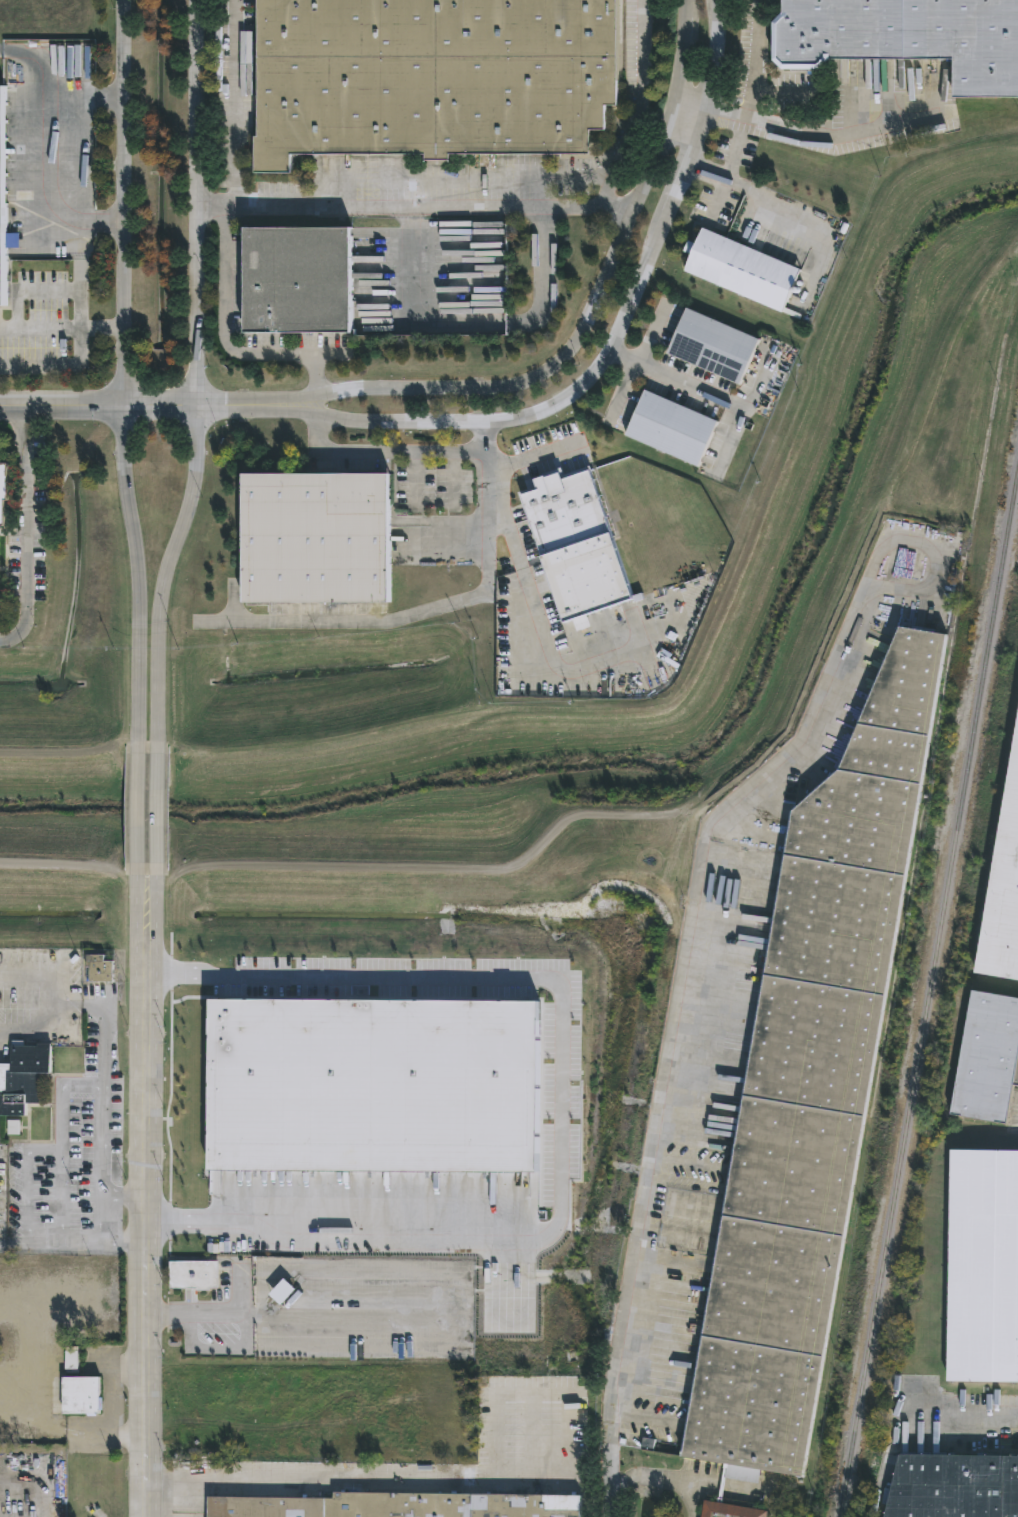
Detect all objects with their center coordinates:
building: (906, 38)
road: (717, 54)
road: (754, 59)
building: (430, 77)
road: (43, 79)
road: (108, 99)
road: (233, 104)
road: (694, 105)
road: (820, 135)
road: (689, 161)
road: (728, 168)
road: (706, 172)
road: (40, 187)
road: (123, 201)
road: (197, 203)
road: (504, 207)
road: (615, 208)
road: (771, 210)
road: (108, 220)
road: (404, 221)
building: (0, 233)
building: (741, 271)
road: (80, 275)
building: (295, 281)
road: (589, 307)
road: (492, 320)
road: (116, 329)
road: (94, 330)
road: (40, 331)
road: (229, 344)
building: (712, 347)
road: (328, 357)
road: (57, 366)
road: (672, 380)
road: (62, 405)
road: (161, 405)
road: (252, 406)
road: (544, 410)
building: (670, 429)
road: (393, 450)
road: (532, 456)
building: (2, 491)
road: (26, 530)
building: (313, 539)
road: (138, 572)
road: (169, 572)
road: (434, 607)
road: (541, 629)
road: (137, 818)
road: (155, 818)
railway: (993, 832)
road: (698, 885)
building: (1003, 890)
building: (98, 970)
road: (34, 981)
railway: (927, 994)
road: (78, 1008)
road: (32, 1028)
road: (101, 1049)
building: (987, 1061)
building: (21, 1078)
building: (372, 1078)
building: (809, 1084)
road: (560, 1103)
building: (12, 1129)
road: (100, 1143)
road: (26, 1163)
road: (123, 1199)
road: (147, 1205)
road: (99, 1221)
road: (13, 1242)
road: (122, 1243)
building: (982, 1268)
building: (192, 1276)
road: (245, 1288)
road: (169, 1311)
road: (218, 1312)
road: (246, 1331)
building: (5, 1347)
road: (200, 1348)
building: (79, 1396)
road: (957, 1415)
road: (649, 1477)
road: (473, 1479)
road: (609, 1479)
road: (749, 1486)
building: (953, 1487)
road: (693, 1498)
building: (396, 1506)
building: (727, 1511)

